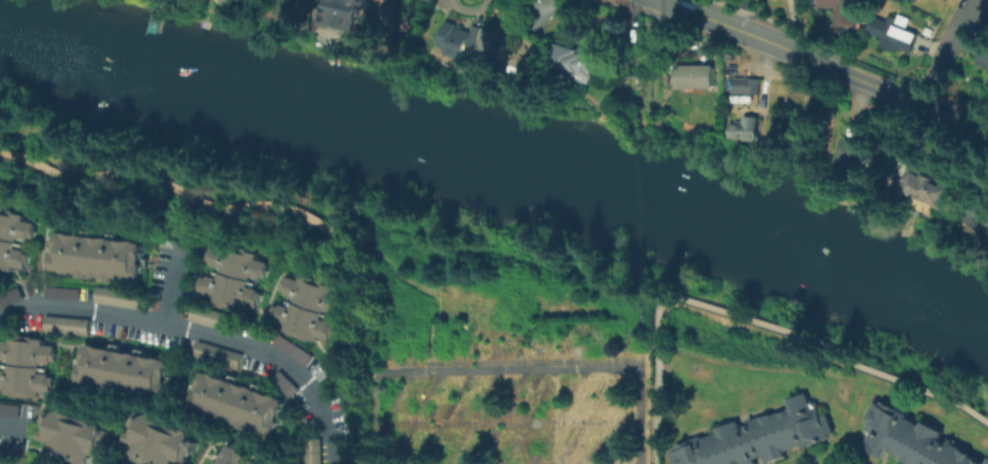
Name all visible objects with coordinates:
building: (917, 0)
building: (341, 9)
park: (780, 10)
building: (843, 11)
road: (789, 23)
road: (727, 24)
building: (895, 37)
building: (462, 44)
building: (536, 51)
road: (949, 51)
building: (502, 52)
building: (984, 59)
building: (574, 63)
building: (697, 77)
building: (749, 89)
road: (889, 90)
building: (748, 130)
river: (501, 138)
building: (863, 148)
road: (186, 190)
building: (929, 190)
road: (268, 199)
building: (977, 216)
building: (17, 241)
building: (99, 258)
building: (239, 279)
road: (171, 285)
building: (65, 293)
building: (12, 298)
building: (122, 299)
building: (313, 307)
building: (216, 320)
building: (69, 328)
road: (201, 332)
road: (818, 339)
road: (826, 343)
building: (295, 351)
building: (219, 356)
building: (27, 367)
road: (507, 368)
building: (125, 372)
building: (286, 386)
road: (656, 386)
building: (239, 404)
building: (11, 411)
road: (13, 427)
building: (765, 436)
building: (77, 437)
building: (911, 439)
building: (163, 443)
road: (804, 446)
road: (886, 447)
road: (756, 452)
building: (316, 453)
building: (347, 456)
building: (240, 457)
road: (931, 459)
road: (707, 463)

